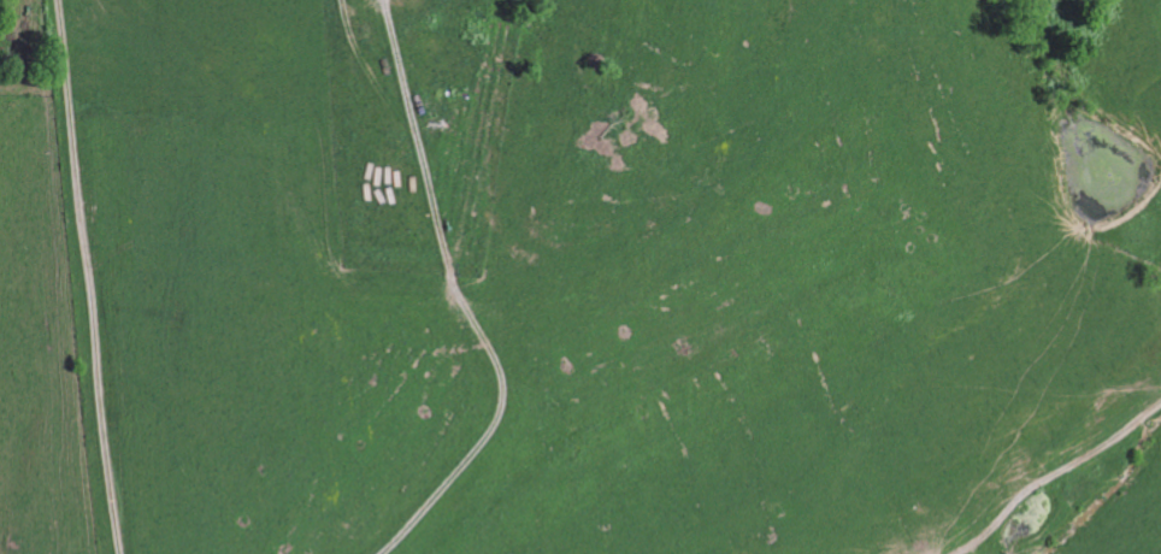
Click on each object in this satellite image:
road: (90, 276)
road: (458, 299)
road: (1061, 489)

